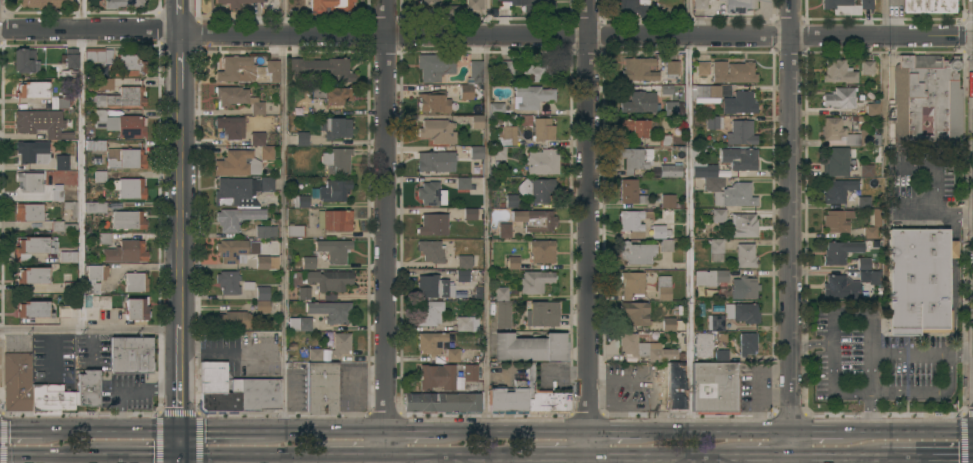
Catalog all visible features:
building: (714, 1)
building: (49, 2)
building: (236, 2)
building: (122, 3)
building: (700, 4)
building: (329, 5)
building: (534, 5)
building: (738, 5)
building: (929, 5)
building: (846, 6)
building: (447, 7)
building: (634, 8)
road: (181, 17)
road: (488, 19)
road: (486, 36)
road: (967, 52)
building: (98, 55)
road: (181, 57)
building: (70, 58)
building: (25, 60)
building: (129, 64)
building: (435, 66)
building: (506, 67)
building: (867, 67)
building: (323, 68)
building: (671, 68)
building: (702, 68)
building: (244, 69)
building: (638, 69)
building: (533, 71)
building: (733, 71)
building: (839, 71)
road: (887, 73)
building: (471, 81)
building: (106, 84)
building: (33, 89)
building: (667, 89)
building: (709, 93)
building: (331, 94)
building: (230, 95)
building: (530, 96)
building: (121, 97)
building: (840, 97)
building: (926, 98)
building: (63, 102)
building: (433, 102)
building: (639, 102)
building: (739, 103)
building: (257, 107)
building: (496, 108)
building: (673, 108)
building: (872, 109)
building: (477, 121)
building: (713, 122)
building: (41, 123)
building: (121, 124)
building: (231, 126)
building: (335, 127)
building: (539, 127)
building: (635, 127)
building: (438, 130)
building: (833, 131)
building: (741, 133)
building: (507, 134)
building: (301, 138)
building: (665, 139)
building: (95, 145)
building: (261, 145)
building: (53, 146)
building: (32, 152)
building: (476, 152)
building: (498, 152)
building: (124, 158)
building: (739, 158)
building: (636, 159)
building: (336, 160)
building: (435, 161)
building: (542, 161)
building: (838, 161)
building: (63, 162)
building: (237, 163)
building: (701, 165)
road: (83, 166)
building: (671, 170)
building: (866, 170)
building: (99, 176)
building: (30, 182)
building: (462, 182)
building: (713, 183)
building: (131, 188)
building: (537, 189)
building: (333, 190)
building: (836, 190)
building: (241, 191)
building: (630, 192)
building: (429, 193)
building: (57, 194)
building: (735, 195)
building: (511, 200)
building: (668, 200)
building: (300, 201)
building: (863, 202)
building: (71, 207)
building: (94, 207)
building: (29, 212)
building: (470, 213)
road: (285, 215)
building: (718, 215)
road: (930, 215)
road: (486, 216)
road: (690, 217)
building: (236, 218)
building: (127, 219)
building: (334, 219)
building: (535, 219)
building: (836, 220)
building: (633, 222)
building: (432, 224)
building: (872, 224)
building: (743, 225)
building: (63, 226)
building: (295, 230)
building: (504, 230)
building: (265, 231)
road: (385, 231)
road: (588, 231)
building: (660, 231)
road: (791, 231)
road: (964, 234)
building: (104, 238)
building: (666, 245)
building: (33, 247)
building: (232, 250)
building: (334, 250)
building: (716, 250)
building: (431, 251)
building: (542, 251)
building: (839, 251)
building: (125, 252)
building: (637, 252)
road: (181, 254)
building: (745, 255)
building: (68, 256)
building: (464, 261)
building: (262, 262)
building: (513, 262)
building: (308, 263)
building: (863, 263)
building: (96, 272)
building: (462, 274)
building: (33, 275)
building: (710, 277)
building: (329, 280)
building: (917, 280)
building: (135, 281)
building: (535, 281)
building: (228, 282)
building: (632, 284)
building: (848, 284)
building: (434, 286)
road: (953, 286)
building: (68, 287)
building: (663, 287)
building: (744, 287)
building: (91, 288)
building: (262, 292)
building: (303, 293)
building: (501, 293)
building: (95, 306)
building: (262, 306)
building: (136, 308)
building: (33, 309)
building: (69, 309)
building: (717, 309)
building: (330, 311)
building: (428, 312)
building: (742, 312)
building: (635, 313)
building: (503, 314)
building: (542, 314)
road: (868, 318)
building: (233, 319)
building: (466, 323)
building: (717, 323)
building: (299, 324)
building: (668, 324)
building: (680, 325)
building: (732, 326)
road: (91, 332)
building: (339, 344)
building: (747, 344)
road: (810, 344)
building: (438, 345)
building: (703, 345)
building: (529, 347)
building: (644, 348)
road: (233, 350)
building: (130, 355)
building: (315, 355)
building: (721, 355)
road: (910, 355)
building: (470, 372)
road: (650, 376)
building: (436, 377)
building: (217, 379)
building: (17, 381)
road: (831, 385)
building: (675, 387)
building: (88, 388)
building: (322, 388)
building: (714, 388)
road: (913, 391)
building: (261, 395)
building: (543, 396)
building: (508, 398)
building: (51, 399)
building: (444, 402)
building: (219, 403)
traffic signals: (178, 406)
road: (621, 406)
road: (967, 412)
road: (110, 430)
traffic signals: (205, 430)
road: (222, 430)
road: (324, 430)
road: (411, 430)
traffic signals: (8, 431)
road: (21, 431)
road: (461, 432)
road: (535, 434)
road: (614, 434)
road: (716, 435)
road: (825, 436)
road: (916, 436)
road: (179, 442)
road: (46, 453)
road: (135, 453)
road: (253, 453)
road: (356, 453)
traffic signals: (152, 454)
road: (458, 456)
road: (179, 458)
road: (318, 458)
road: (344, 458)
road: (561, 458)
road: (760, 458)
road: (836, 458)
road: (659, 459)
road: (887, 459)
road: (932, 459)
road: (491, 460)
road: (548, 460)
road: (729, 461)
road: (845, 461)
road: (892, 461)

